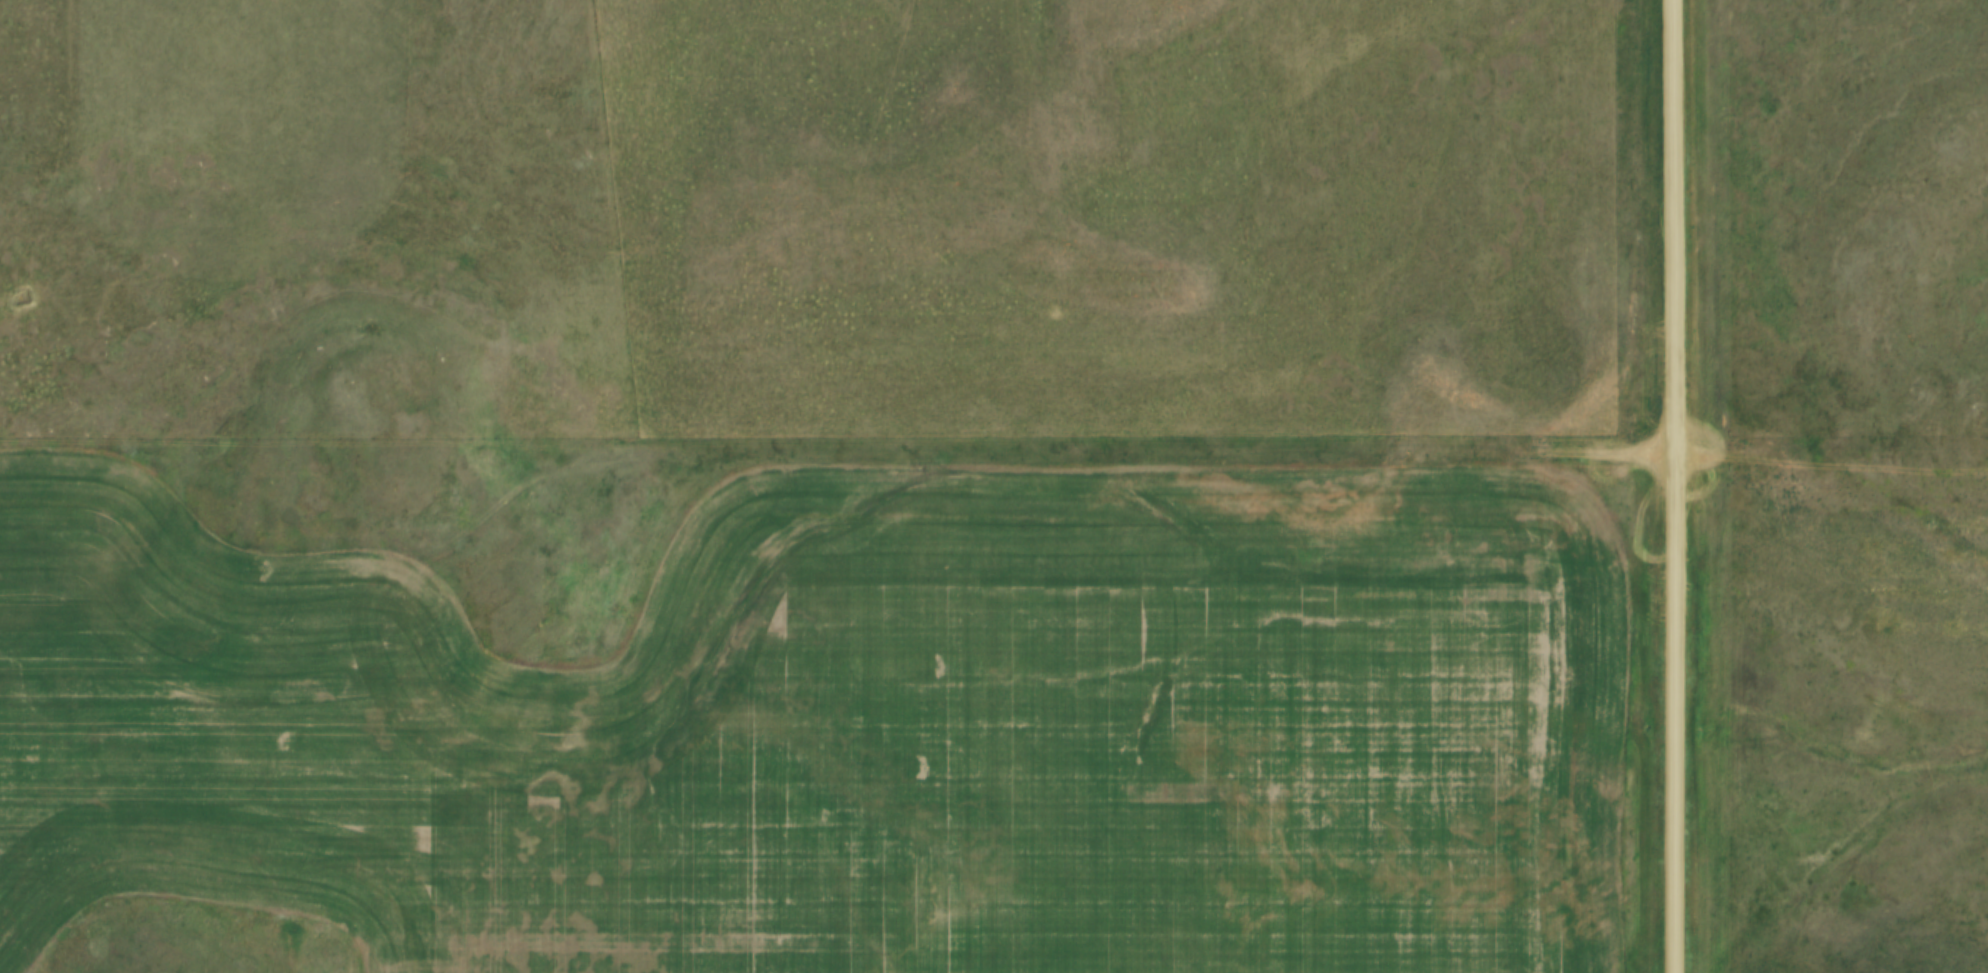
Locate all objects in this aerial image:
road: (1673, 486)

